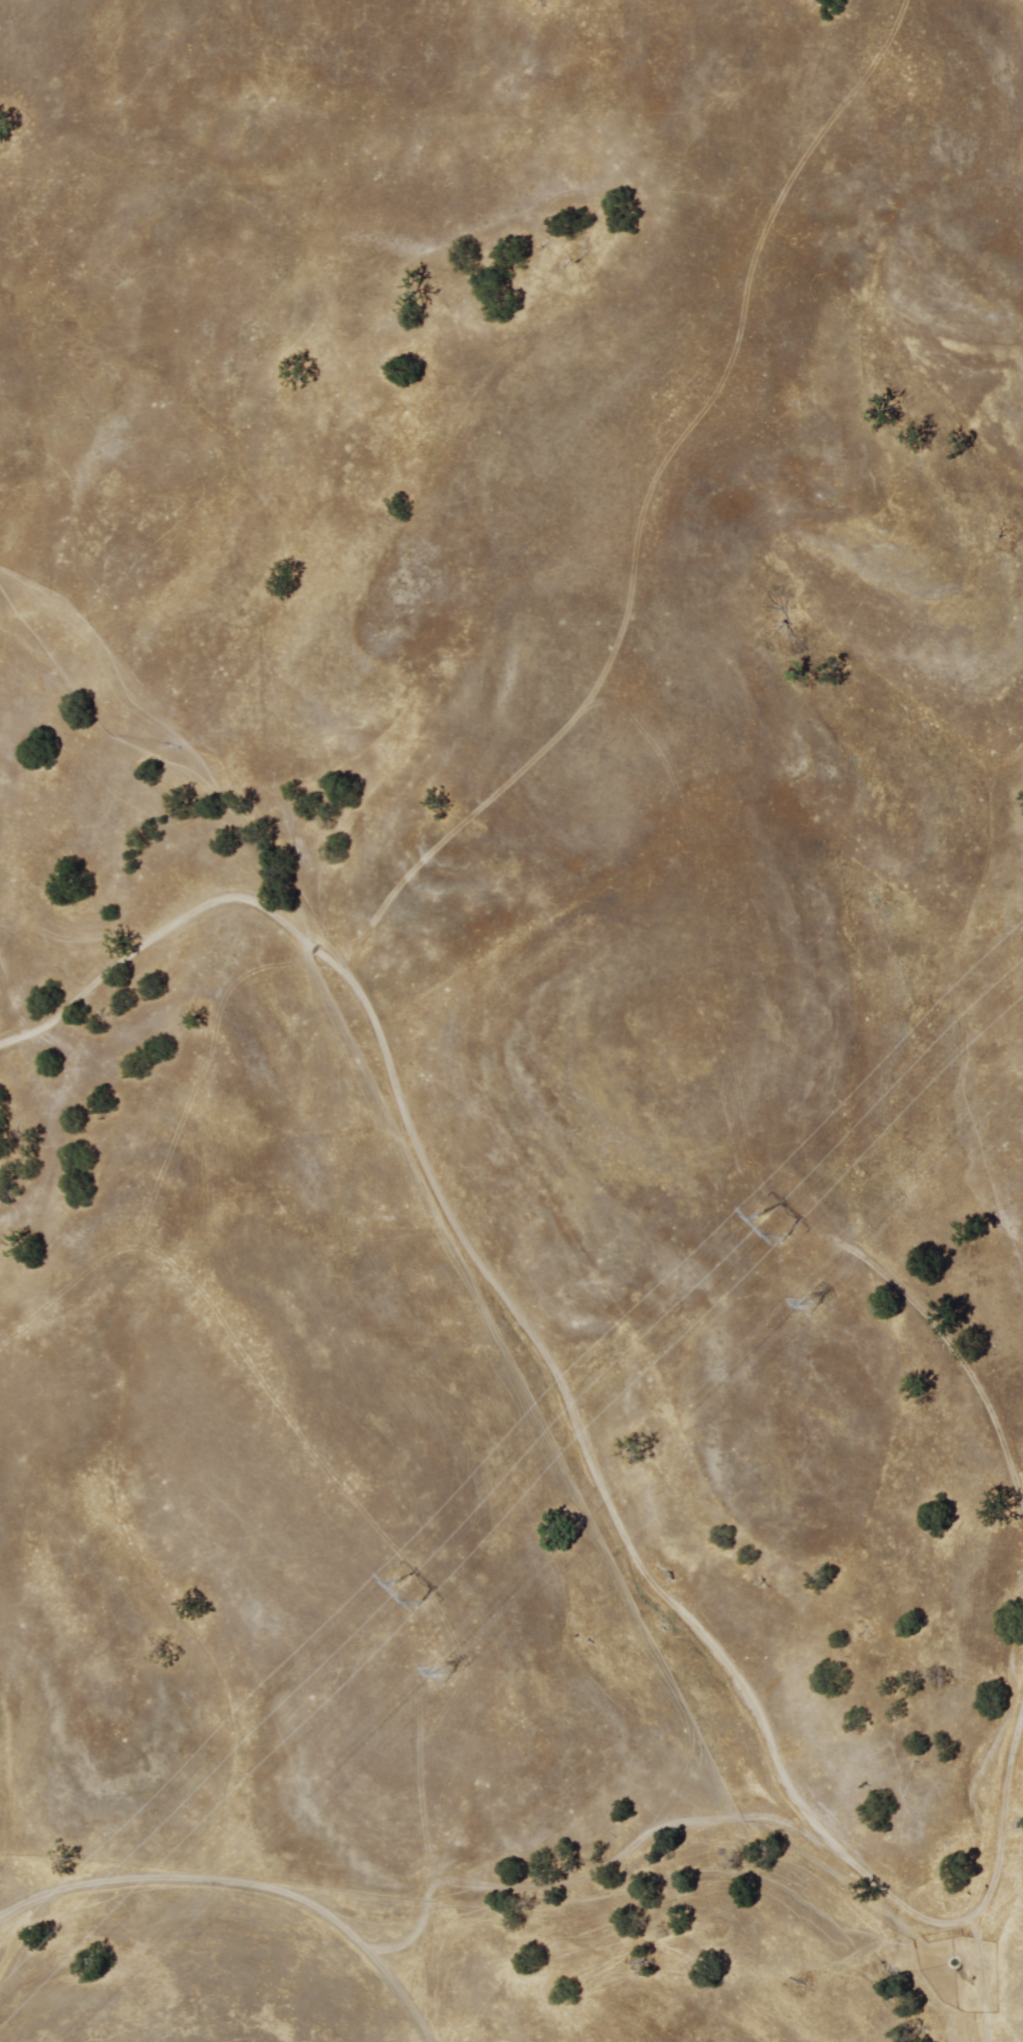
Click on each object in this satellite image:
road: (647, 504)
power tower: (769, 1231)
power tower: (801, 1310)
road: (516, 1312)
power tower: (404, 1593)
power tower: (427, 1685)
road: (1006, 1820)
road: (247, 1881)
road: (988, 1978)

